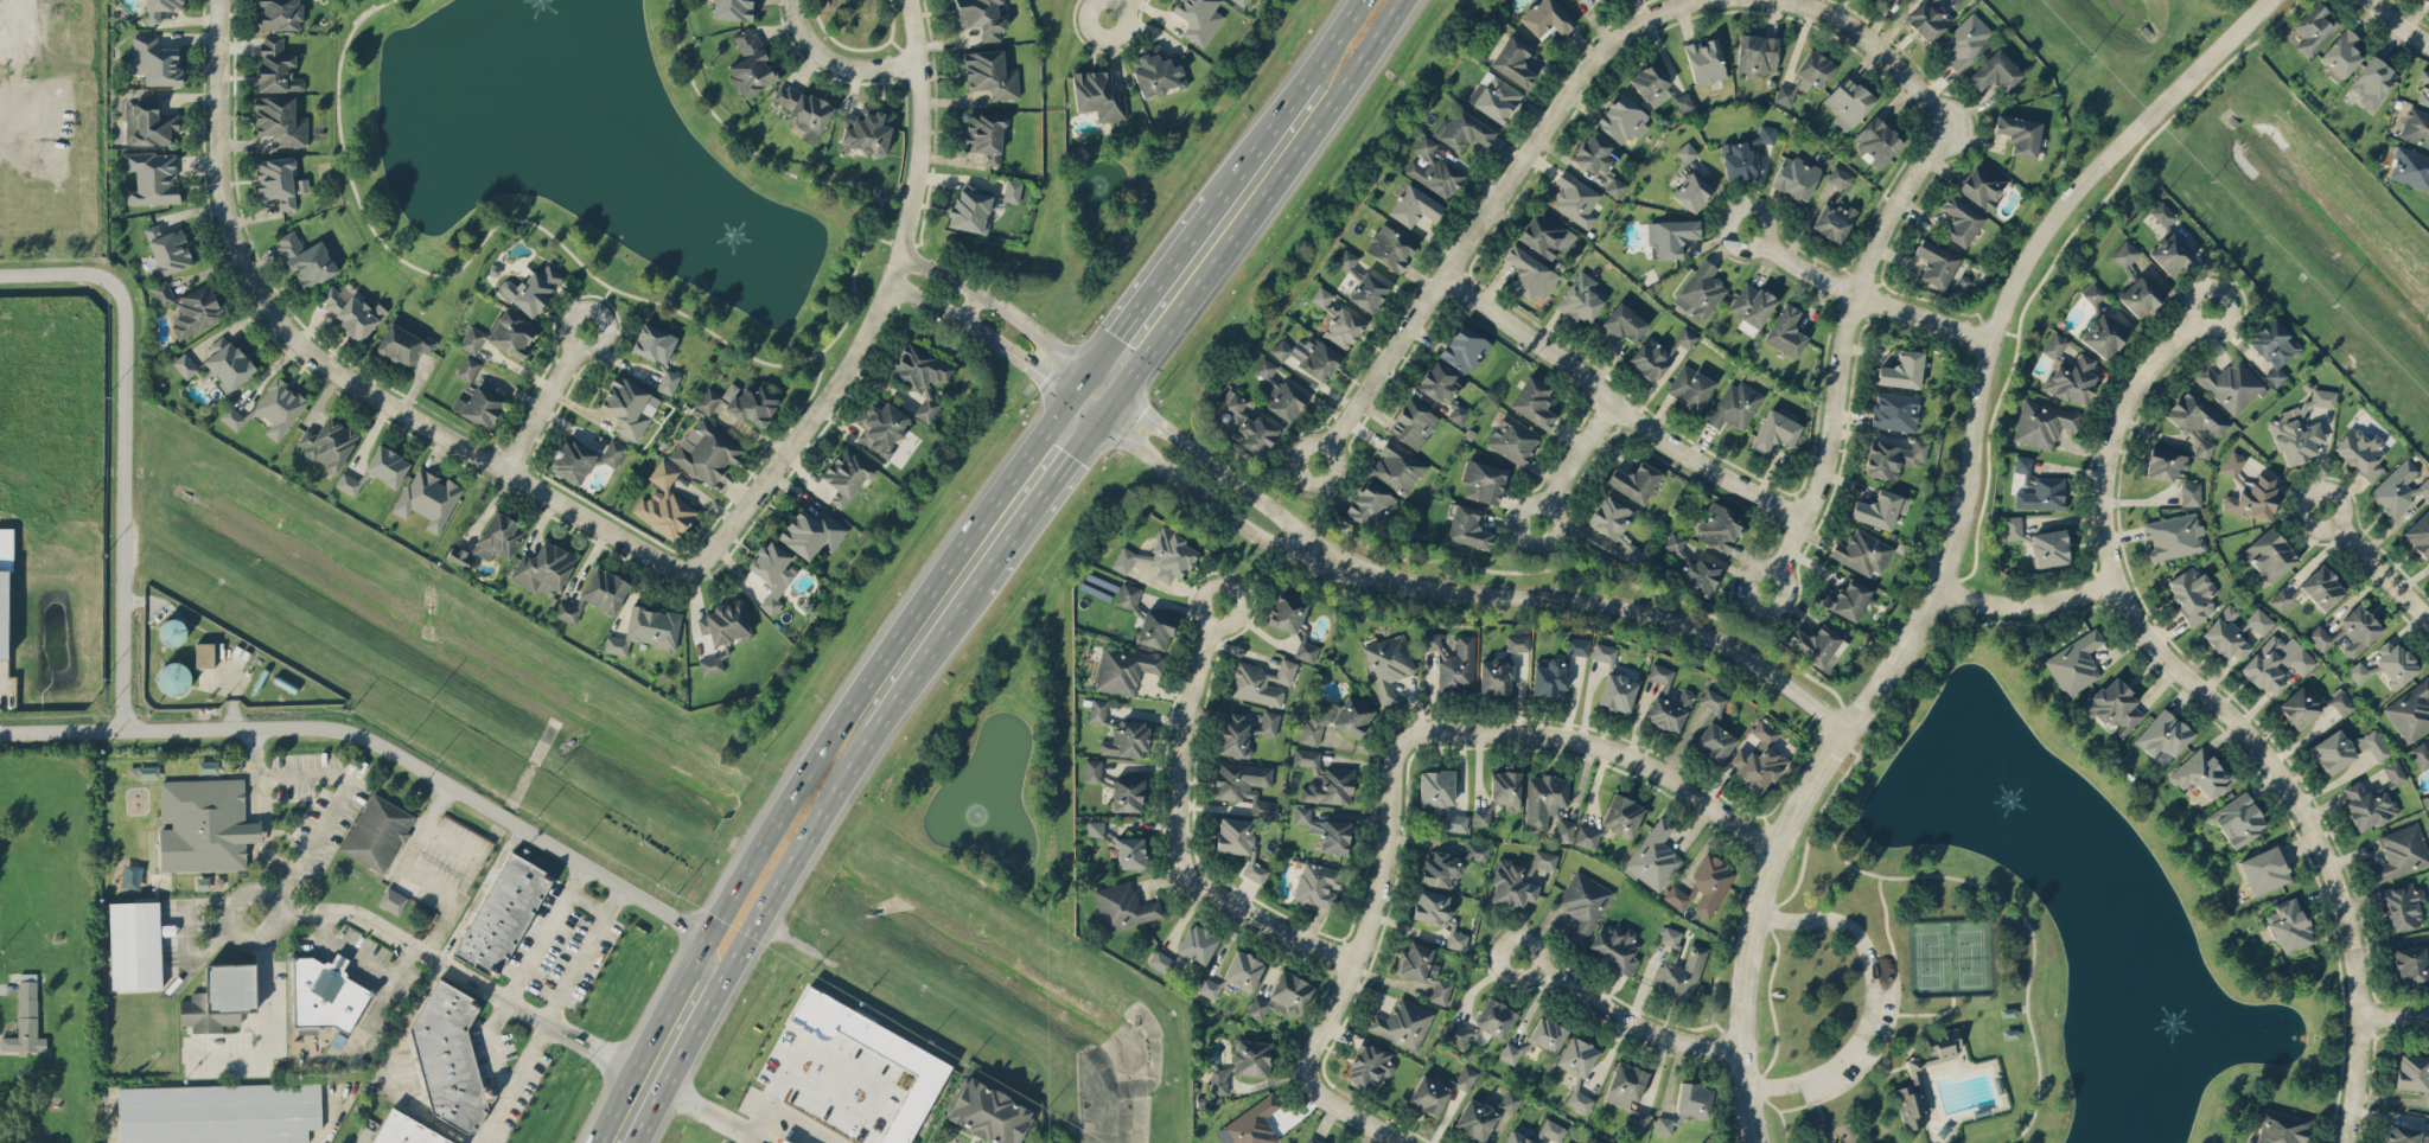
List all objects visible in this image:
building: (1598, 0)
building: (2428, 0)
building: (1242, 1)
building: (159, 8)
road: (1115, 8)
building: (732, 9)
building: (279, 14)
building: (982, 17)
building: (1198, 18)
building: (1545, 18)
building: (1927, 19)
road: (2399, 24)
building: (2314, 27)
road: (1333, 39)
building: (1966, 40)
road: (855, 50)
road: (1877, 51)
road: (900, 53)
building: (1758, 53)
building: (2340, 55)
building: (155, 60)
building: (1513, 60)
building: (1706, 60)
building: (750, 64)
road: (833, 64)
building: (276, 65)
building: (1815, 68)
building: (1156, 71)
building: (1995, 71)
building: (990, 74)
building: (2372, 81)
building: (1651, 83)
building: (2423, 87)
building: (1097, 94)
building: (1785, 94)
building: (1493, 96)
building: (1683, 101)
building: (1848, 101)
building: (803, 109)
building: (1622, 119)
building: (280, 120)
building: (2416, 126)
building: (1462, 129)
building: (867, 130)
building: (1766, 133)
building: (2019, 134)
building: (984, 135)
building: (1875, 140)
road: (1261, 141)
building: (1685, 152)
building: (1739, 160)
building: (1600, 161)
building: (2409, 167)
building: (1434, 168)
building: (1840, 175)
building: (152, 177)
building: (1797, 177)
building: (276, 180)
building: (1982, 184)
building: (1012, 190)
building: (1694, 191)
building: (1575, 198)
road: (1262, 199)
building: (1414, 205)
building: (970, 207)
road: (1491, 207)
building: (2162, 213)
building: (1832, 219)
building: (1959, 219)
building: (1545, 235)
building: (1671, 236)
road: (884, 241)
building: (1389, 247)
building: (170, 253)
building: (2124, 253)
building: (2169, 253)
building: (1346, 257)
building: (305, 262)
building: (1936, 263)
road: (926, 268)
building: (1529, 274)
road: (1152, 288)
building: (533, 290)
building: (1700, 290)
building: (1367, 292)
building: (2092, 292)
building: (1321, 295)
road: (1863, 295)
building: (2138, 295)
road: (913, 296)
building: (1581, 296)
road: (874, 306)
road: (968, 307)
building: (1751, 307)
building: (190, 308)
road: (597, 308)
road: (678, 313)
building: (352, 314)
building: (1622, 321)
road: (1024, 325)
building: (1343, 327)
road: (1996, 328)
building: (1785, 331)
building: (511, 336)
building: (2103, 336)
building: (1685, 337)
building: (470, 341)
building: (402, 344)
building: (654, 345)
building: (1464, 347)
road: (1841, 347)
building: (2274, 347)
building: (1281, 349)
road: (1006, 352)
building: (1650, 358)
building: (1318, 359)
building: (228, 363)
building: (189, 366)
building: (1902, 369)
building: (2068, 372)
road: (331, 373)
traffic signals: (1089, 373)
building: (920, 375)
building: (668, 381)
building: (1440, 382)
road: (1103, 384)
building: (2230, 384)
road: (1079, 385)
building: (1691, 385)
building: (1280, 391)
traffic signals: (1117, 395)
traffic signals: (1070, 397)
road: (542, 400)
building: (1532, 402)
building: (476, 403)
building: (1736, 404)
building: (742, 406)
road: (1618, 406)
building: (625, 407)
road: (1107, 407)
building: (278, 408)
road: (1083, 408)
building: (1894, 410)
building: (1456, 413)
building: (231, 416)
traffic signals: (1097, 419)
building: (2197, 419)
building: (2041, 422)
building: (1413, 423)
building: (1248, 424)
building: (880, 427)
building: (2299, 428)
building: (1775, 432)
road: (748, 434)
building: (1512, 439)
building: (327, 443)
road: (120, 448)
building: (2360, 451)
building: (1892, 456)
building: (581, 460)
road: (1574, 460)
building: (2163, 462)
building: (2232, 462)
building: (387, 466)
building: (2022, 466)
building: (1396, 467)
road: (1219, 471)
building: (846, 475)
building: (707, 478)
building: (1634, 480)
building: (1483, 481)
building: (348, 483)
building: (2399, 487)
road: (732, 490)
building: (2189, 491)
building: (2041, 493)
road: (1201, 496)
building: (427, 498)
building: (2252, 498)
road: (701, 499)
road: (1035, 503)
building: (1370, 504)
building: (1879, 507)
building: (1467, 526)
building: (1617, 526)
building: (1720, 526)
building: (2012, 526)
building: (811, 532)
building: (2418, 534)
building: (2173, 535)
building: (498, 538)
road: (700, 539)
building: (1673, 542)
building: (2048, 547)
building: (6, 548)
building: (1861, 551)
building: (1160, 555)
building: (2268, 555)
road: (2376, 563)
building: (542, 571)
building: (771, 573)
building: (1700, 576)
building: (2321, 587)
building: (605, 592)
building: (2192, 593)
building: (1128, 595)
building: (1843, 598)
building: (2281, 598)
road: (1595, 602)
road: (2028, 604)
road: (1947, 609)
building: (1287, 612)
building: (4, 613)
building: (566, 613)
building: (726, 625)
building: (651, 627)
building: (1154, 628)
building: (2234, 630)
building: (2348, 631)
building: (171, 632)
building: (1517, 641)
building: (1816, 644)
building: (1577, 645)
building: (1306, 650)
building: (1604, 652)
building: (203, 654)
road: (924, 660)
building: (712, 662)
building: (1454, 662)
building: (2074, 662)
building: (2276, 662)
building: (1388, 664)
building: (2386, 664)
building: (1123, 669)
building: (1496, 675)
building: (1550, 676)
building: (173, 678)
building: (1262, 681)
building: (1618, 691)
road: (231, 694)
building: (1666, 700)
building: (1713, 701)
road: (1905, 701)
building: (2340, 701)
building: (2114, 705)
road: (2221, 707)
building: (2299, 707)
building: (1097, 710)
building: (2410, 710)
building: (1337, 720)
road: (1864, 728)
building: (1244, 732)
building: (2162, 734)
building: (1126, 739)
building: (1714, 741)
road: (1605, 746)
road: (1850, 748)
building: (2347, 748)
road: (402, 752)
building: (2420, 754)
road: (814, 758)
building: (1758, 758)
building: (1092, 770)
building: (2393, 772)
building: (2201, 773)
building: (1324, 779)
building: (1245, 785)
building: (1436, 787)
building: (1507, 788)
building: (1127, 793)
building: (2428, 797)
building: (1544, 798)
building: (2366, 805)
building: (1622, 815)
building: (2238, 819)
building: (1456, 822)
building: (203, 824)
building: (1095, 828)
building: (1564, 829)
road: (263, 830)
building: (1325, 830)
road: (1179, 832)
building: (377, 834)
building: (1586, 836)
road: (454, 837)
building: (1239, 842)
building: (1130, 851)
building: (1477, 851)
building: (2401, 851)
building: (1653, 856)
road: (792, 860)
building: (1542, 860)
building: (1441, 869)
building: (2264, 869)
road: (415, 871)
building: (1710, 883)
building: (1316, 885)
building: (1511, 885)
road: (264, 890)
building: (1676, 896)
road: (280, 899)
building: (393, 900)
road: (589, 901)
building: (1583, 903)
building: (1123, 906)
building: (2403, 906)
road: (2016, 908)
road: (336, 911)
building: (502, 914)
building: (1437, 914)
road: (1367, 926)
road: (1753, 926)
building: (2289, 926)
road: (544, 930)
building: (134, 944)
building: (1197, 944)
road: (180, 946)
building: (1615, 946)
road: (586, 952)
building: (1696, 954)
road: (362, 958)
building: (1160, 960)
building: (2411, 964)
building: (1423, 969)
building: (1243, 970)
building: (1209, 986)
building: (325, 994)
building: (221, 996)
building: (1282, 996)
road: (1873, 1001)
road: (1770, 1005)
road: (370, 1014)
road: (1918, 1015)
road: (1621, 1016)
building: (25, 1017)
building: (1494, 1017)
road: (2396, 1017)
road: (1931, 1021)
building: (1402, 1022)
road: (263, 1024)
road: (1892, 1027)
building: (1456, 1033)
building: (1547, 1034)
road: (491, 1042)
building: (1510, 1053)
road: (528, 1054)
building: (450, 1055)
building: (1251, 1056)
road: (1905, 1064)
road: (672, 1065)
building: (1369, 1065)
building: (925, 1066)
building: (1577, 1068)
building: (2412, 1072)
building: (1913, 1074)
road: (865, 1075)
building: (1465, 1077)
building: (1220, 1080)
building: (1625, 1085)
road: (400, 1094)
building: (1429, 1094)
building: (1692, 1099)
building: (1509, 1100)
road: (1773, 1110)
building: (218, 1112)
building: (987, 1112)
building: (1639, 1118)
building: (1475, 1119)
road: (1357, 1120)
road: (327, 1122)
road: (747, 1122)
road: (1823, 1123)
building: (1251, 1124)
building: (1664, 1124)
building: (2277, 1126)
building: (406, 1130)
building: (1553, 1130)
building: (2405, 1135)
road: (739, 1137)
building: (1517, 1138)
building: (1312, 1139)
building: (782, 1141)
building: (1596, 1141)

